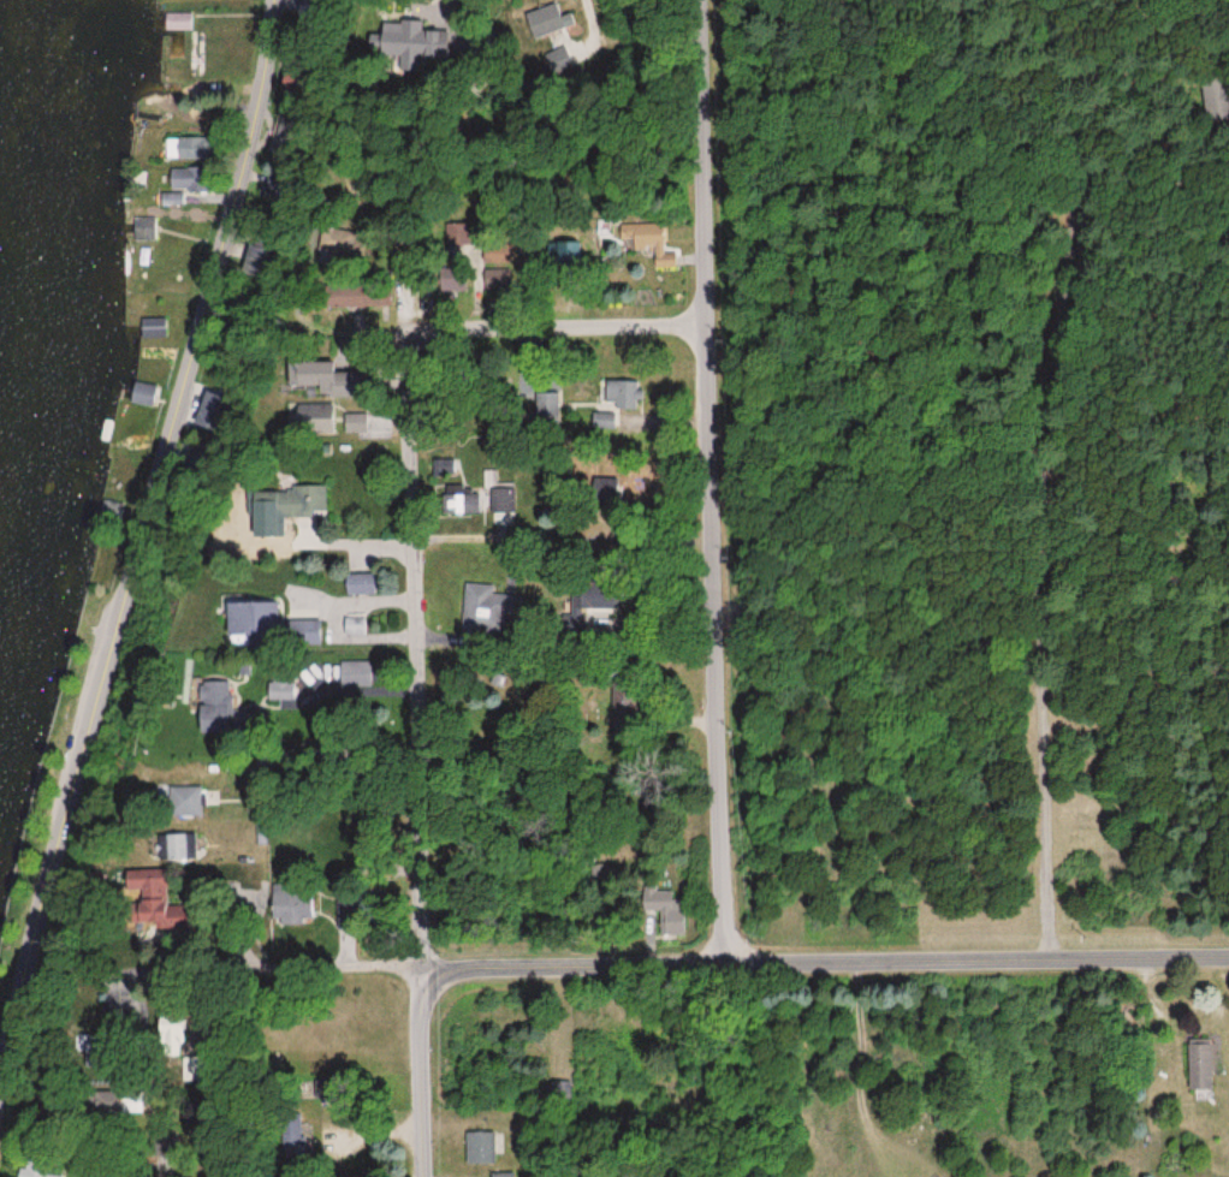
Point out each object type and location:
building: (559, 19)
building: (178, 20)
building: (410, 65)
road: (526, 77)
building: (1218, 97)
building: (188, 148)
building: (186, 178)
building: (142, 230)
building: (342, 295)
road: (519, 344)
building: (317, 380)
building: (622, 394)
building: (550, 415)
building: (604, 420)
road: (945, 471)
road: (713, 474)
building: (607, 488)
building: (285, 503)
building: (464, 503)
road: (566, 535)
road: (164, 552)
building: (599, 599)
building: (492, 612)
building: (249, 619)
building: (355, 626)
building: (210, 708)
road: (319, 714)
road: (421, 763)
building: (182, 802)
building: (179, 848)
road: (344, 866)
building: (143, 899)
building: (290, 905)
building: (665, 910)
road: (750, 947)
building: (1198, 1063)
building: (292, 1135)
building: (480, 1147)
building: (34, 1175)

